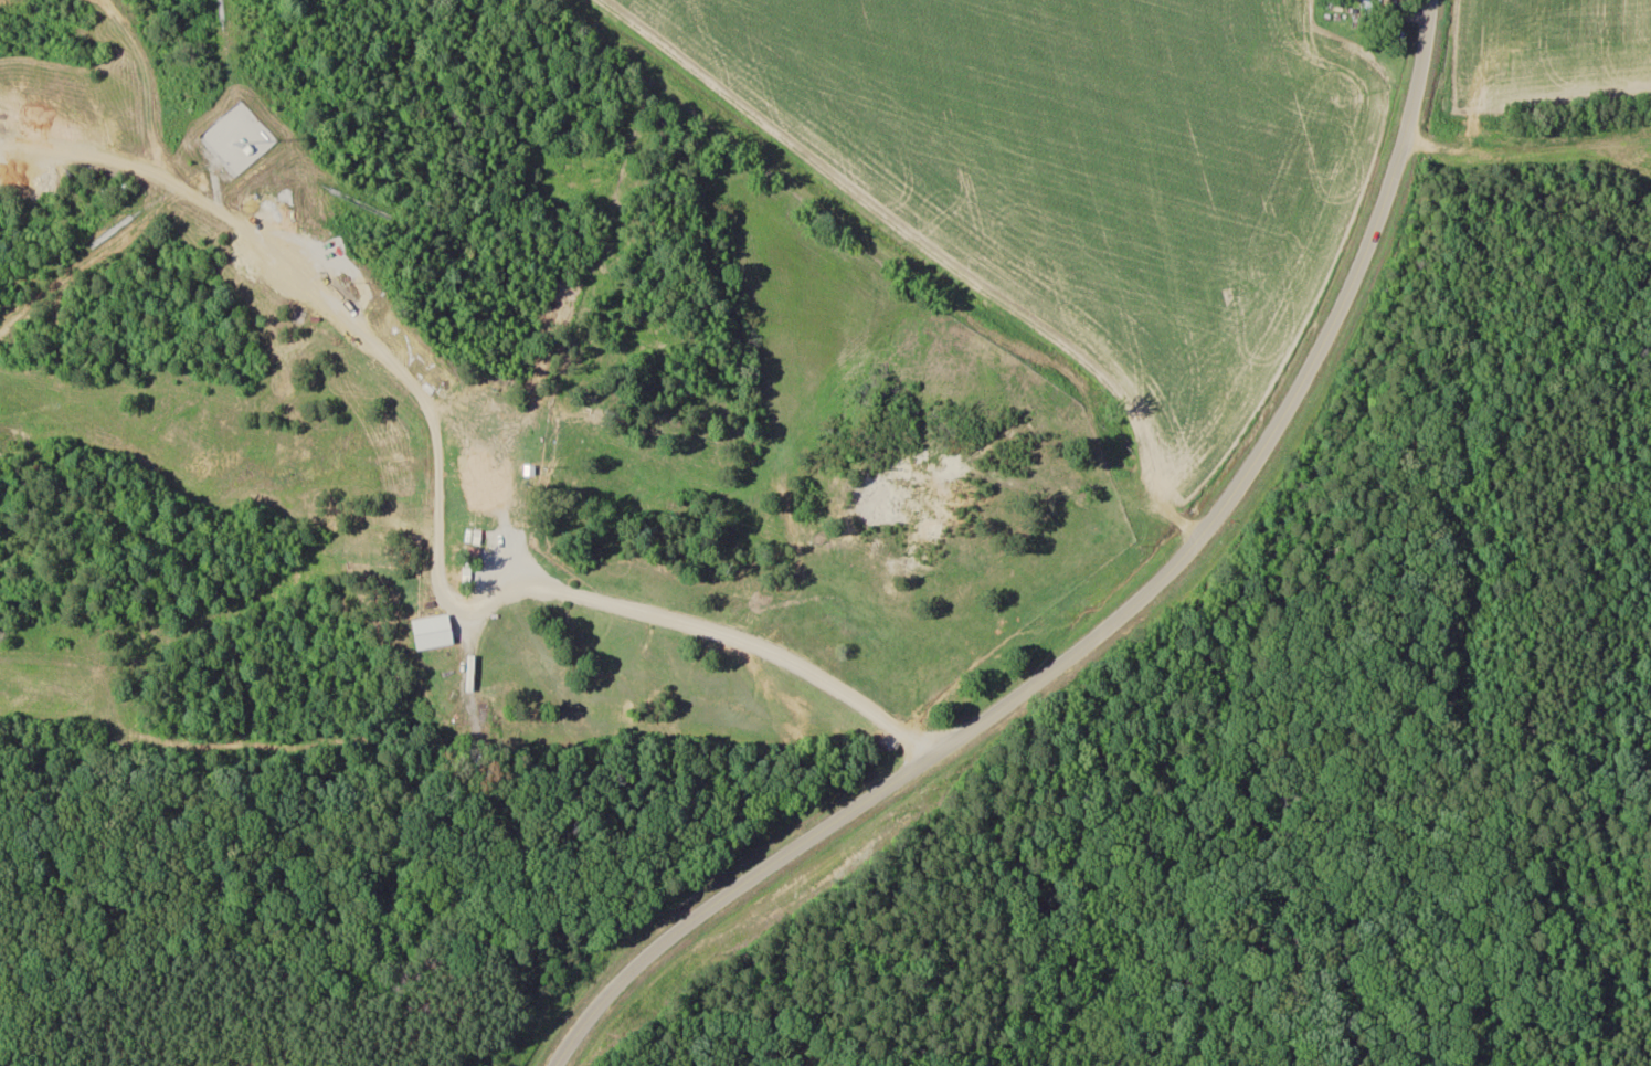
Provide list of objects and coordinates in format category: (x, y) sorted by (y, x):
building: (1367, 3)
building: (487, 481)
road: (1109, 622)
building: (434, 632)
road: (602, 632)

